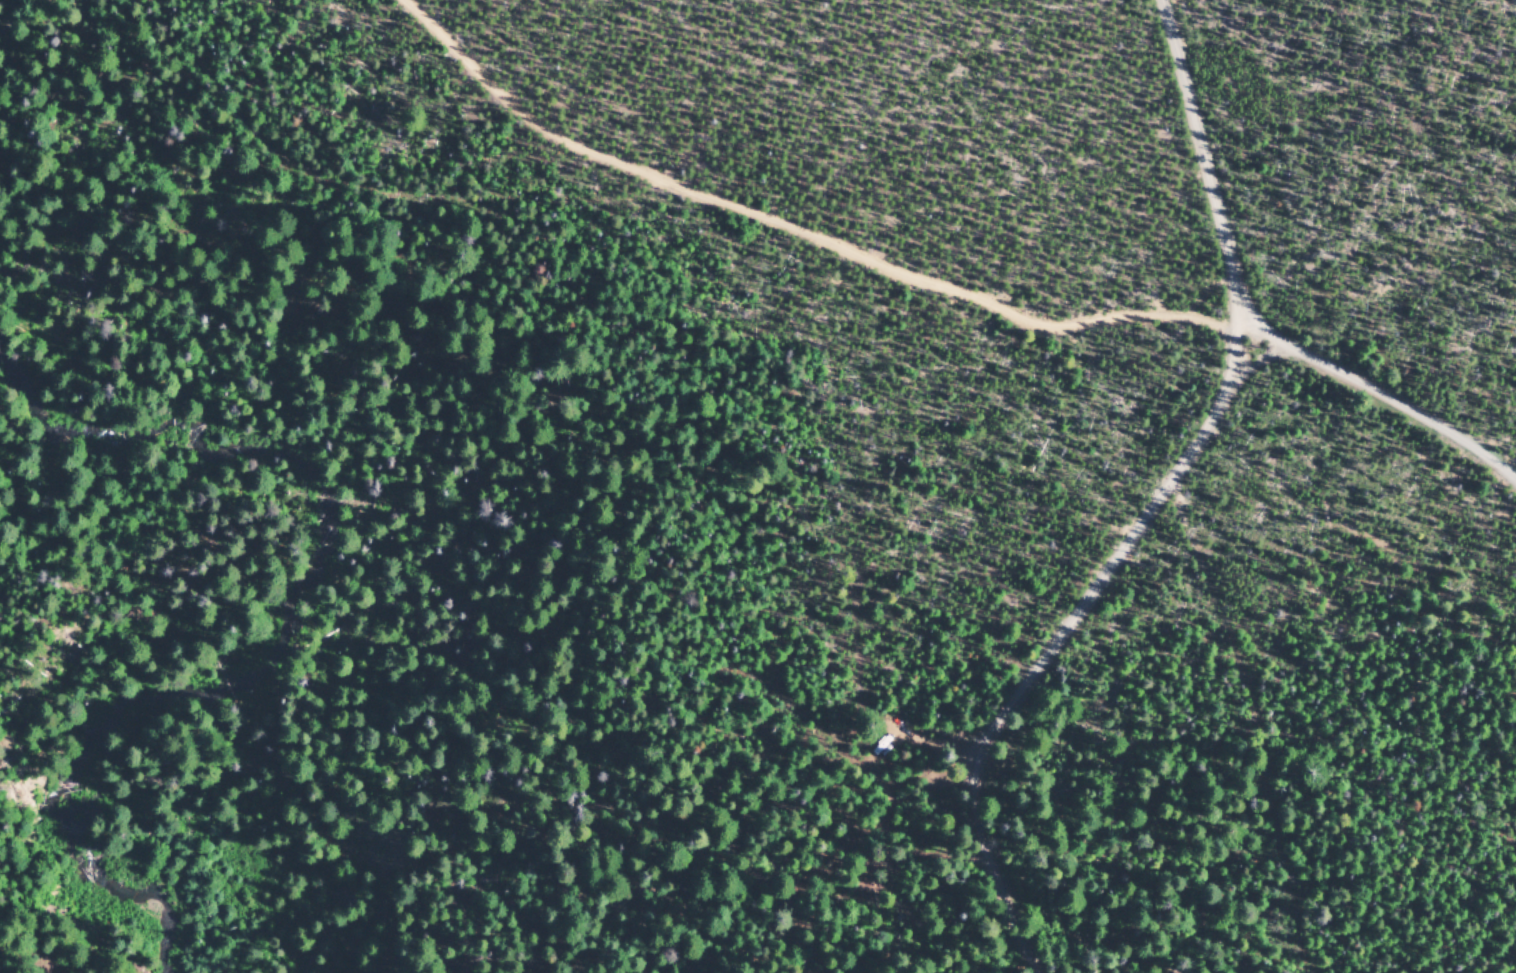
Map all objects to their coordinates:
road: (1201, 157)
road: (794, 229)
road: (1378, 395)
road: (1056, 628)
road: (1257, 701)

